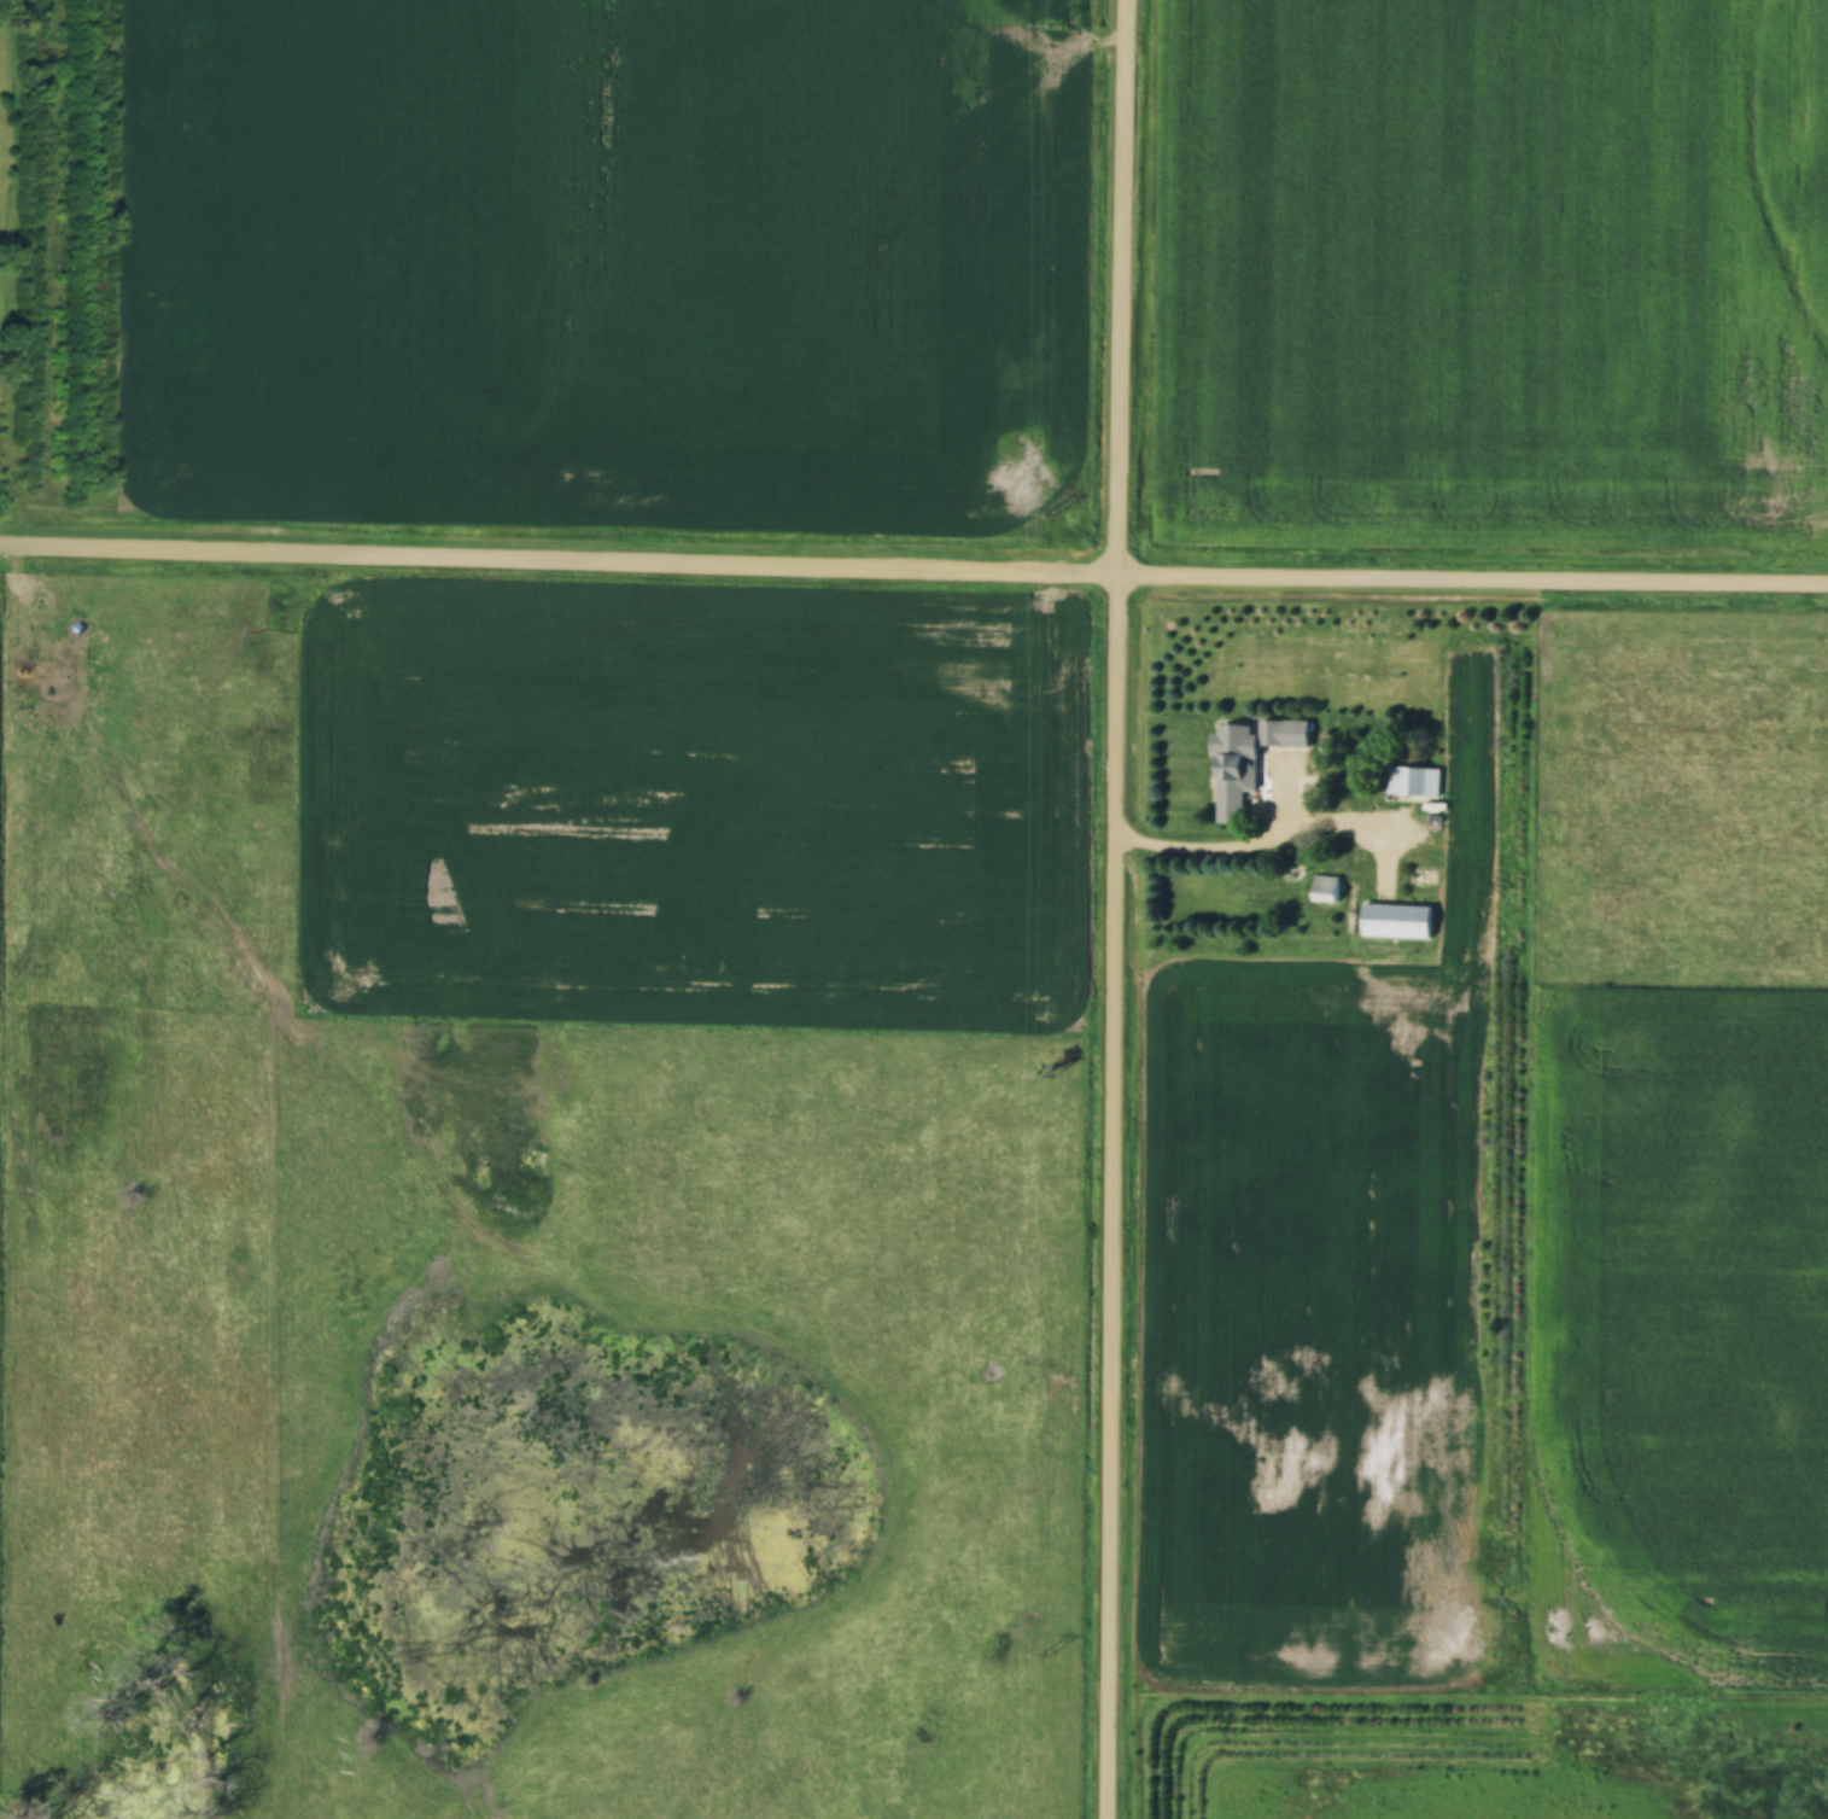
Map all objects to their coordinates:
power tower: (1055, 28)
power tower: (1051, 514)
road: (913, 570)
building: (1412, 781)
building: (1232, 788)
building: (1327, 890)
road: (1108, 909)
building: (1396, 921)
power tower: (1047, 1077)
power tower: (1045, 1655)

